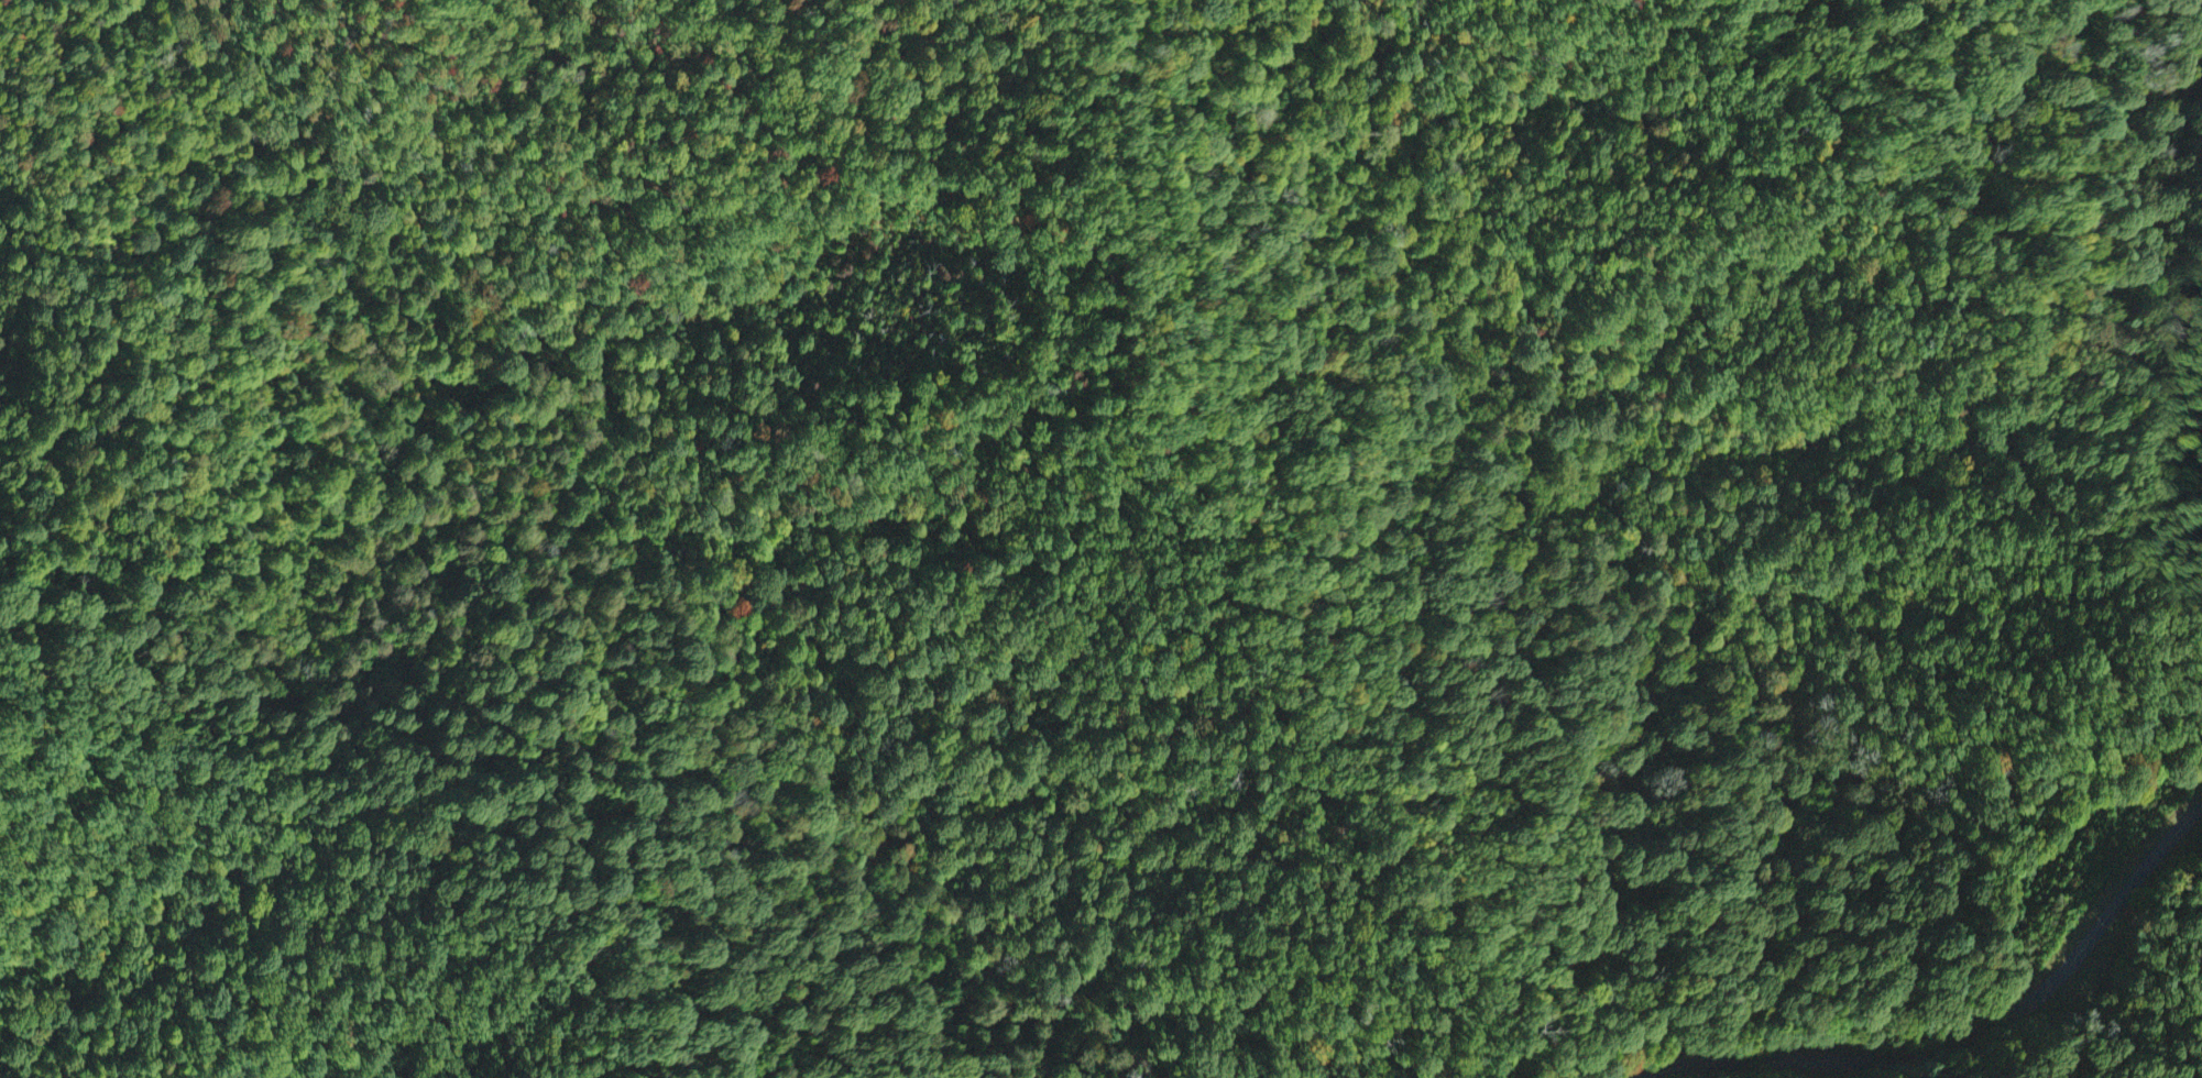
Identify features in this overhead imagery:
road: (1970, 1039)

